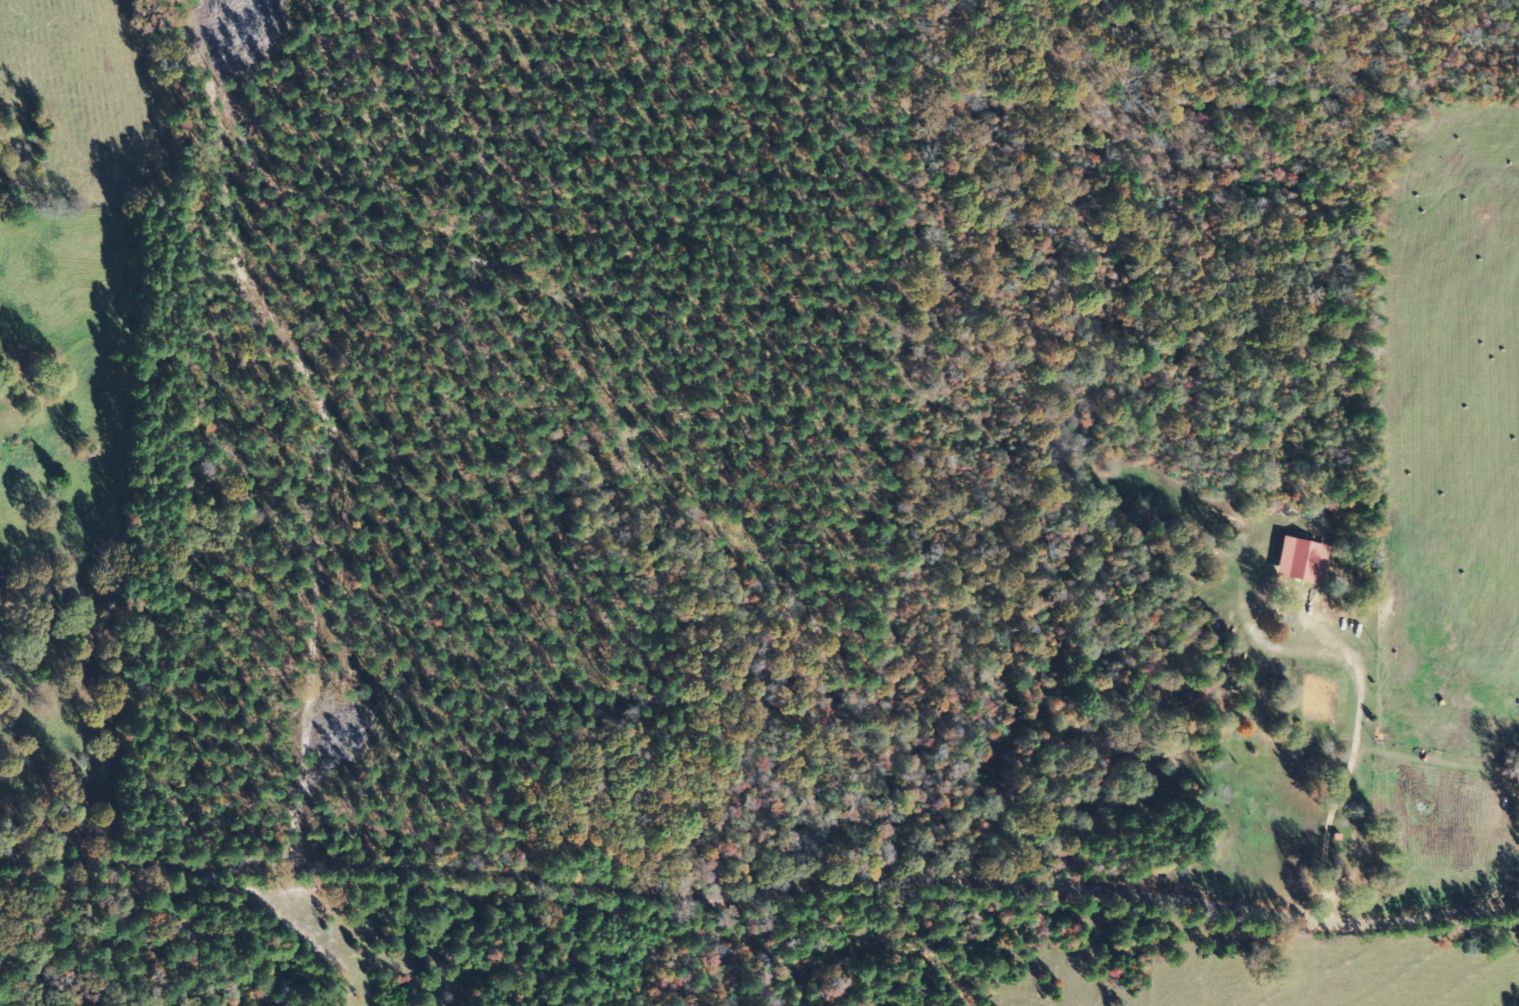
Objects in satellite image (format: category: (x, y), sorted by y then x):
road: (759, 917)

